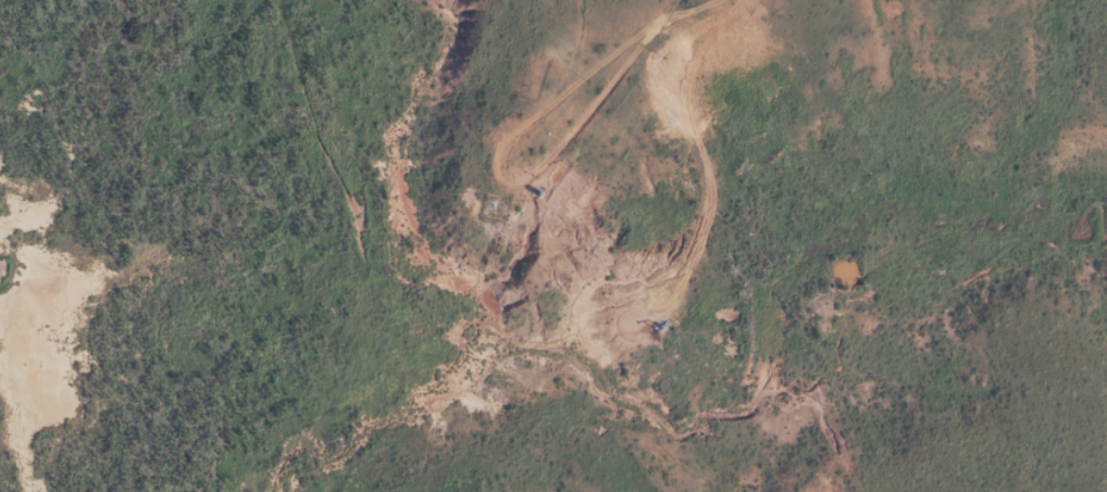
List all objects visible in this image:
road: (599, 229)
road: (1, 478)

